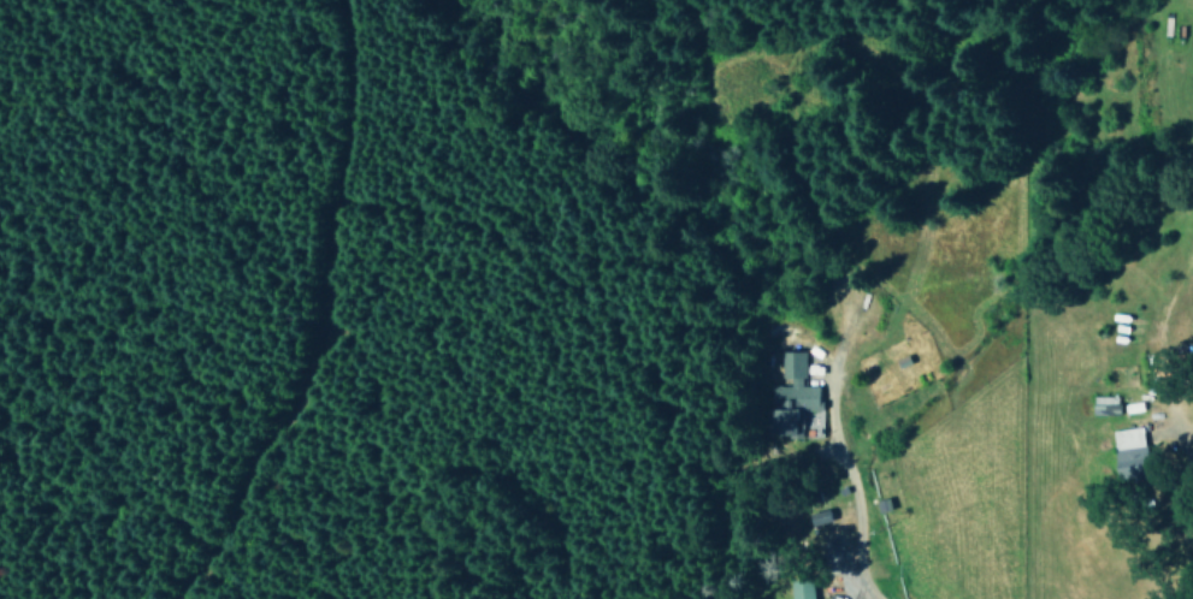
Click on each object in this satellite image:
building: (799, 398)
building: (1103, 403)
building: (1127, 446)
road: (1176, 455)
road: (796, 510)
building: (801, 588)

